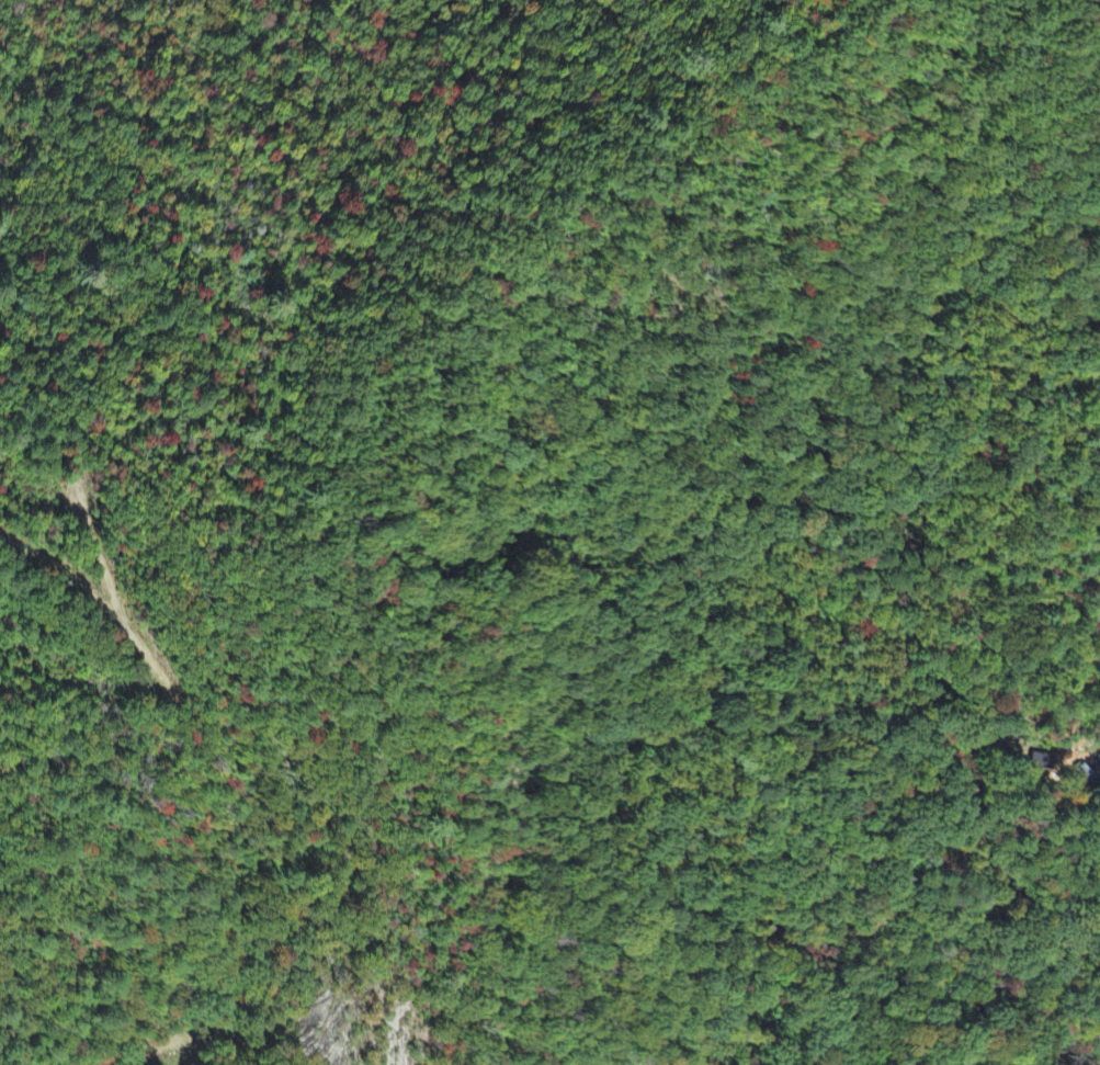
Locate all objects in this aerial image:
building: (1099, 760)
building: (1039, 764)

